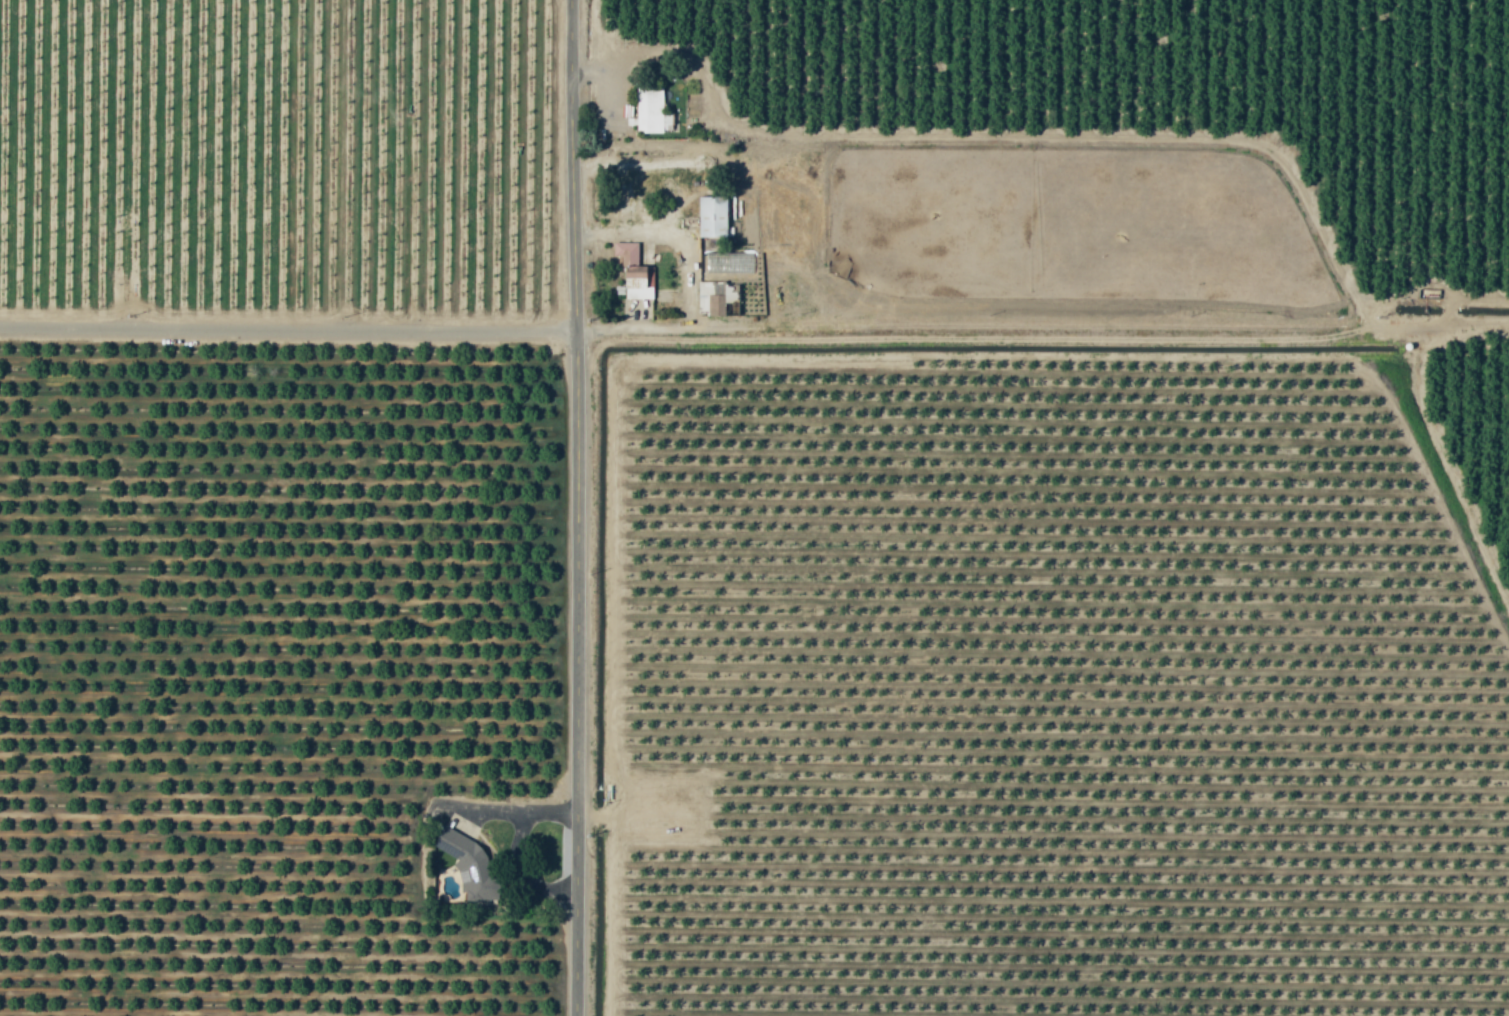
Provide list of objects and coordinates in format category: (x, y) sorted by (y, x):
building: (652, 112)
building: (712, 217)
building: (626, 253)
building: (634, 281)
road: (685, 286)
building: (719, 300)
road: (292, 328)
road: (1061, 338)
road: (583, 508)
building: (465, 856)

